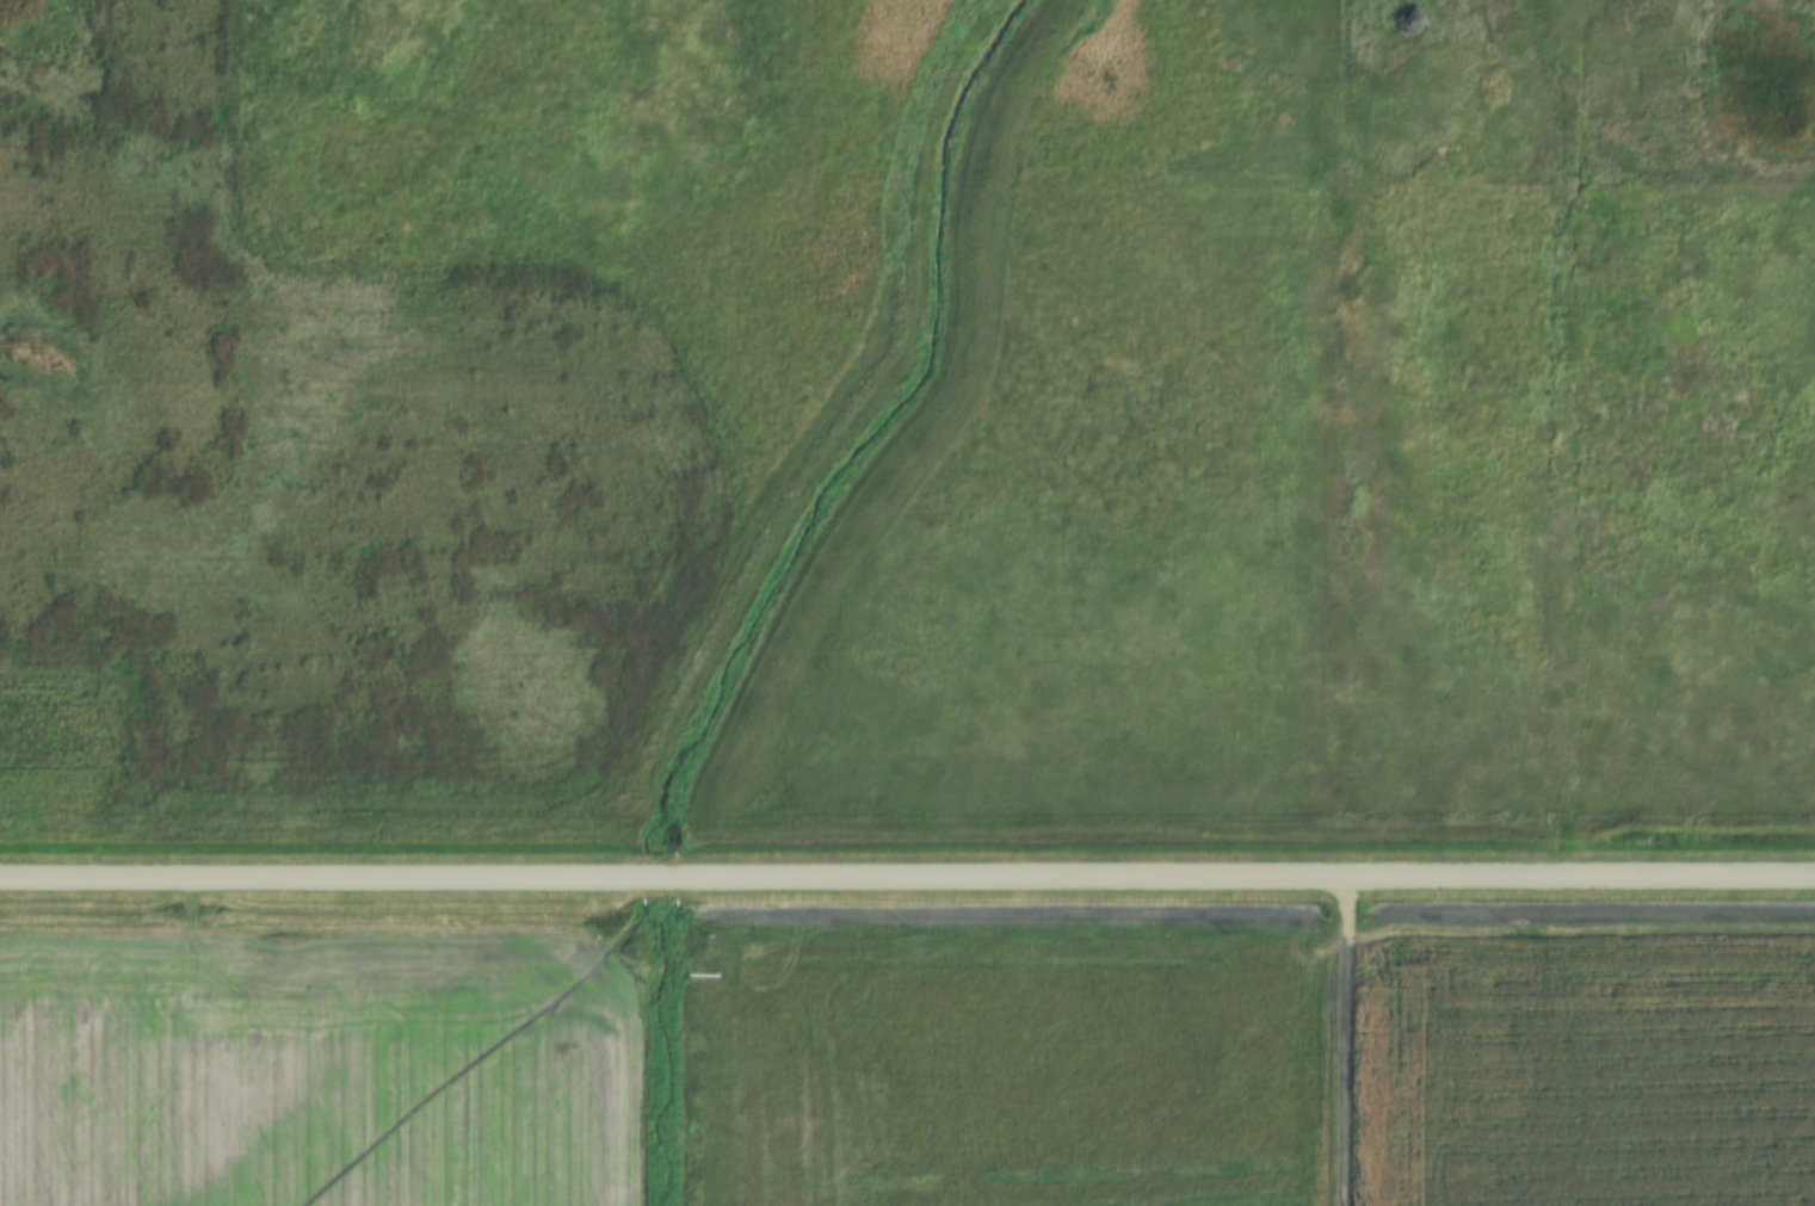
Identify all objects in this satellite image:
road: (907, 883)

